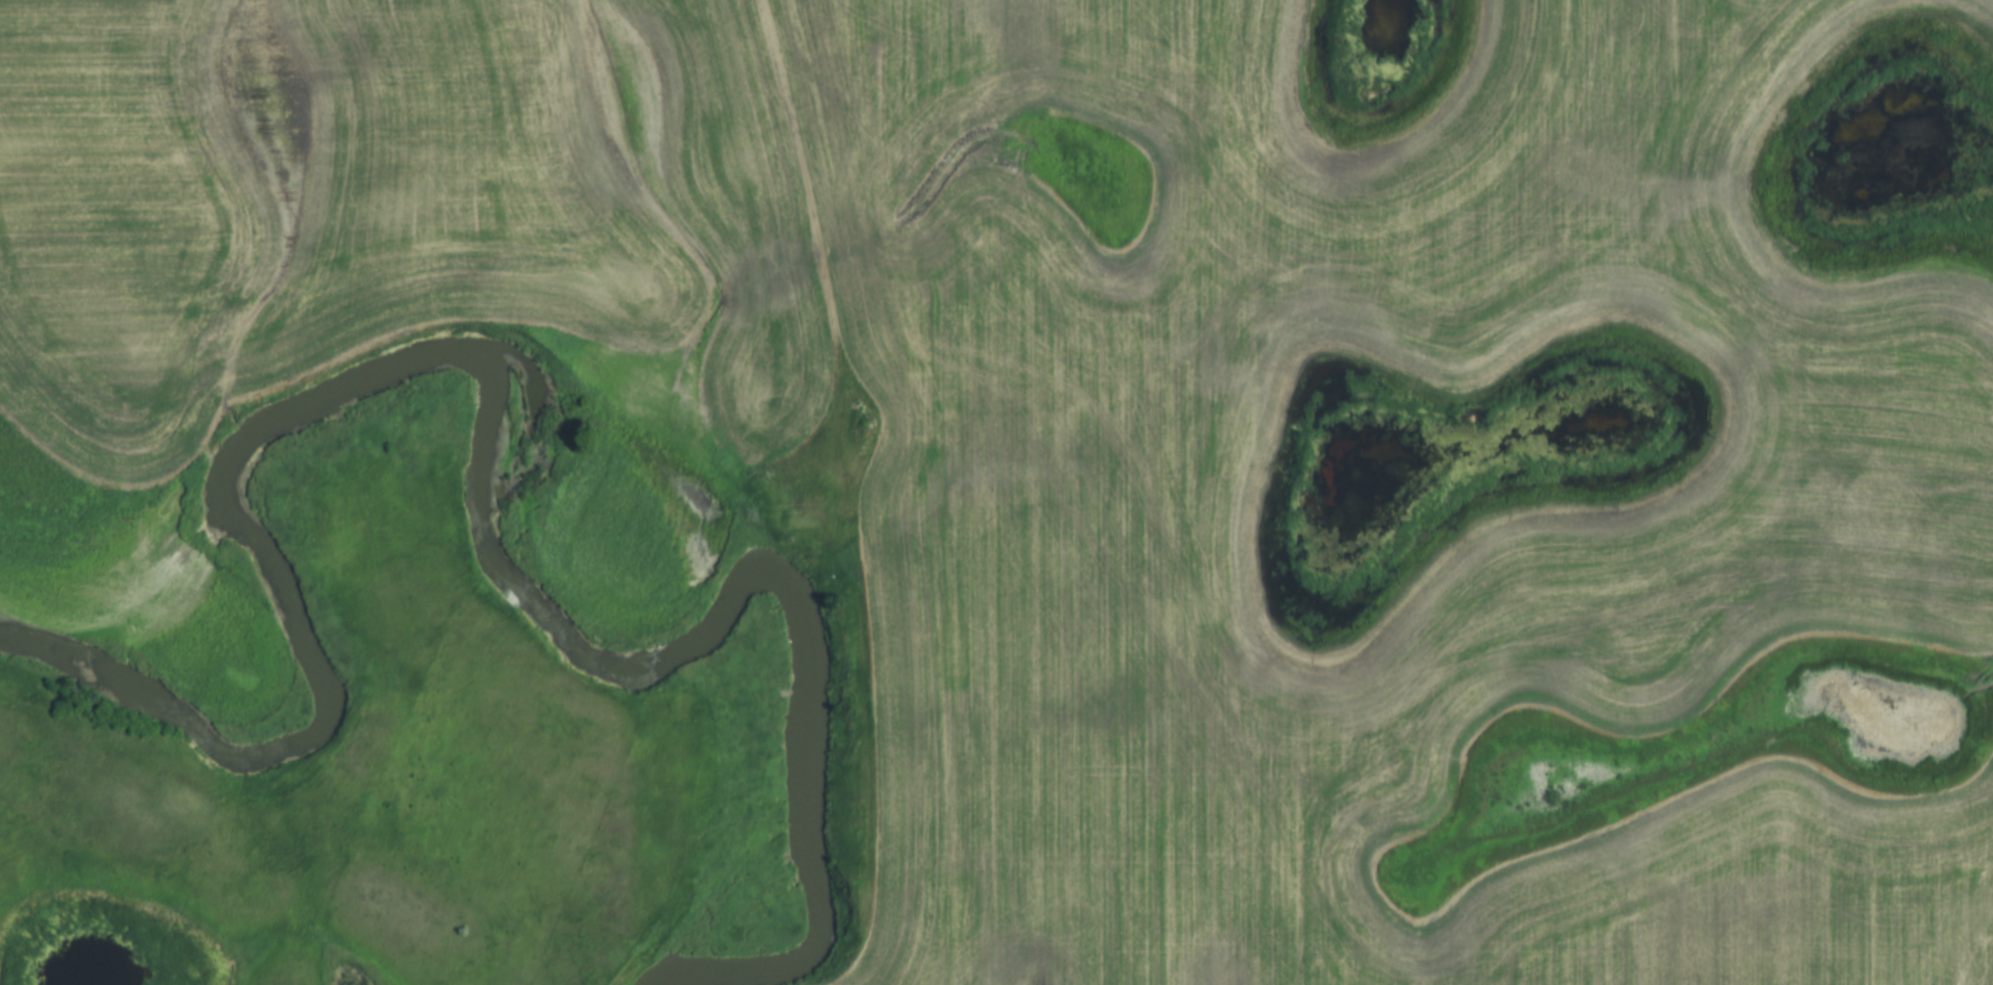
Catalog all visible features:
river: (484, 431)

